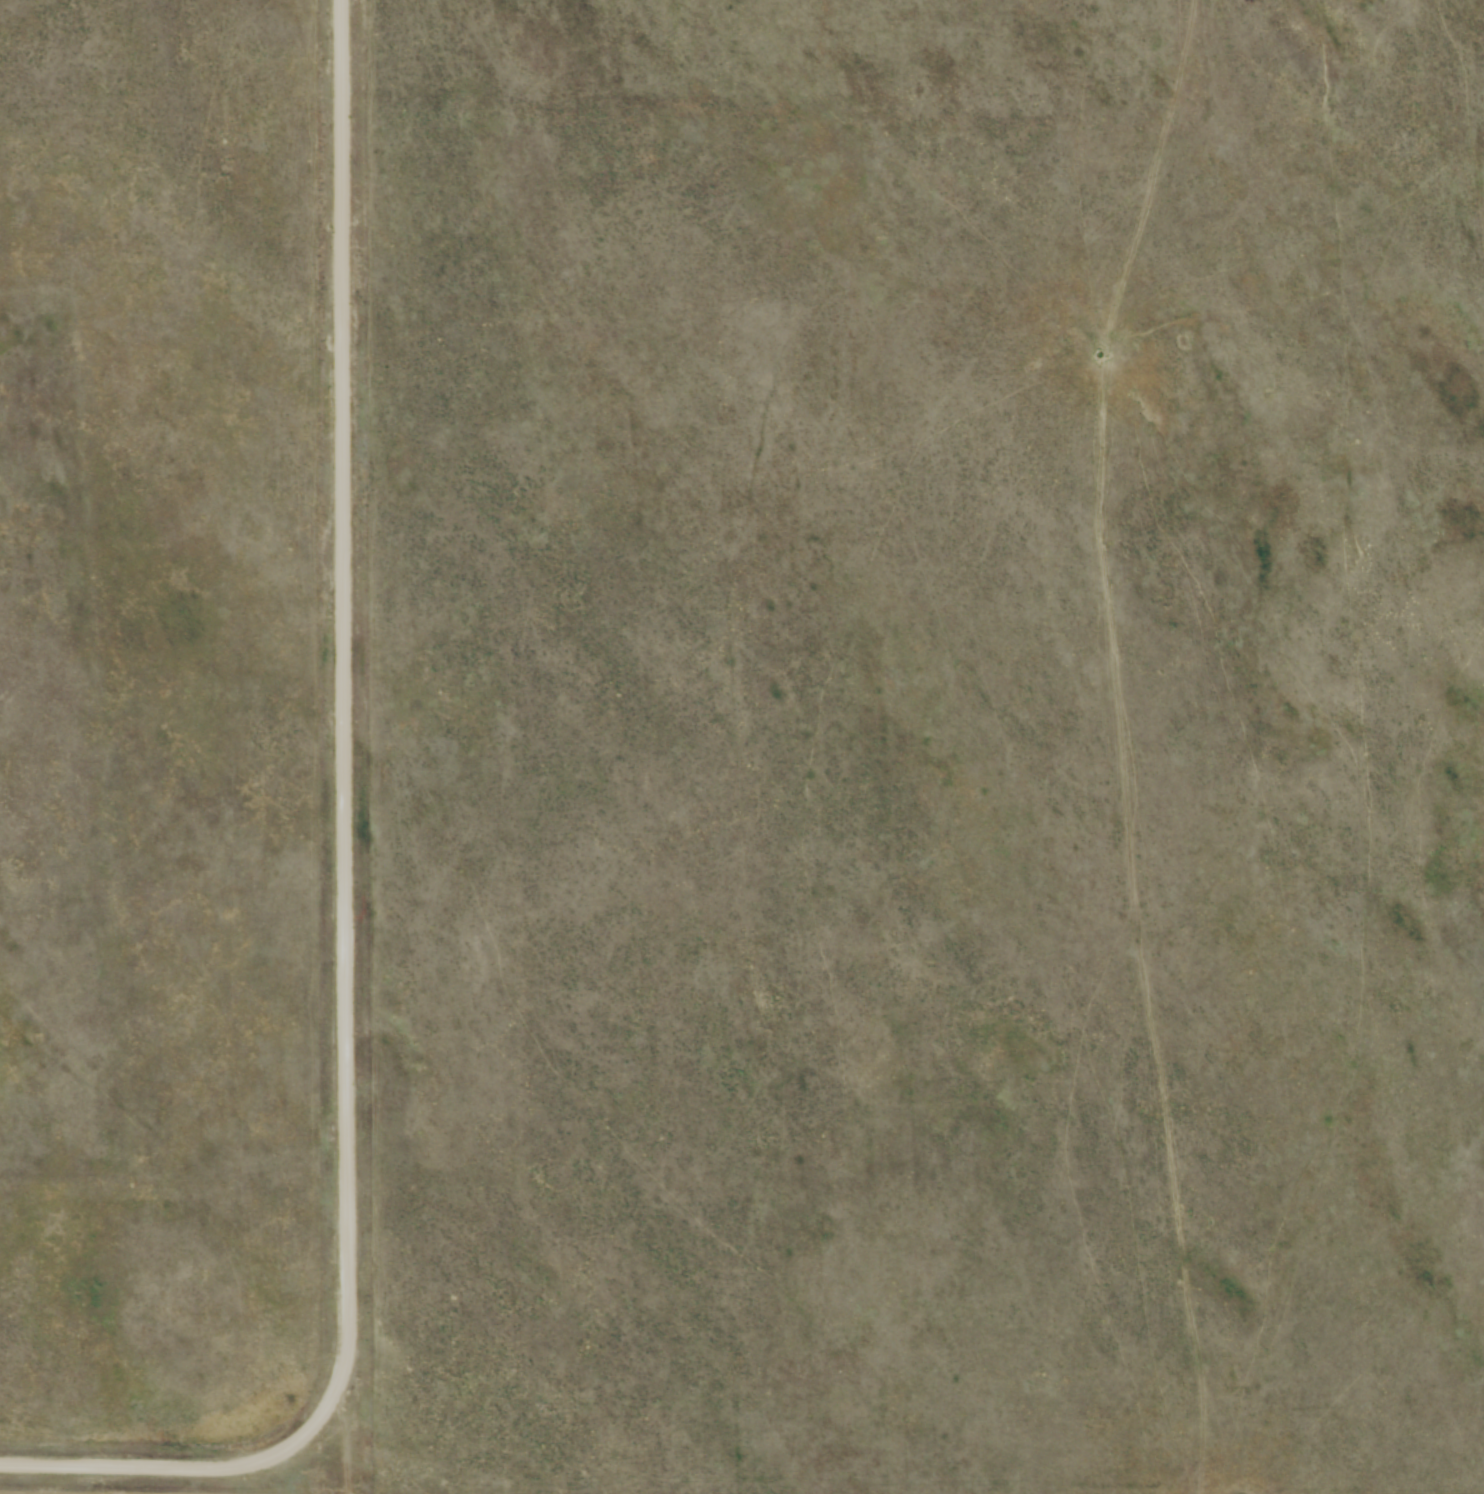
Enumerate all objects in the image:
road: (346, 727)
road: (153, 1468)

